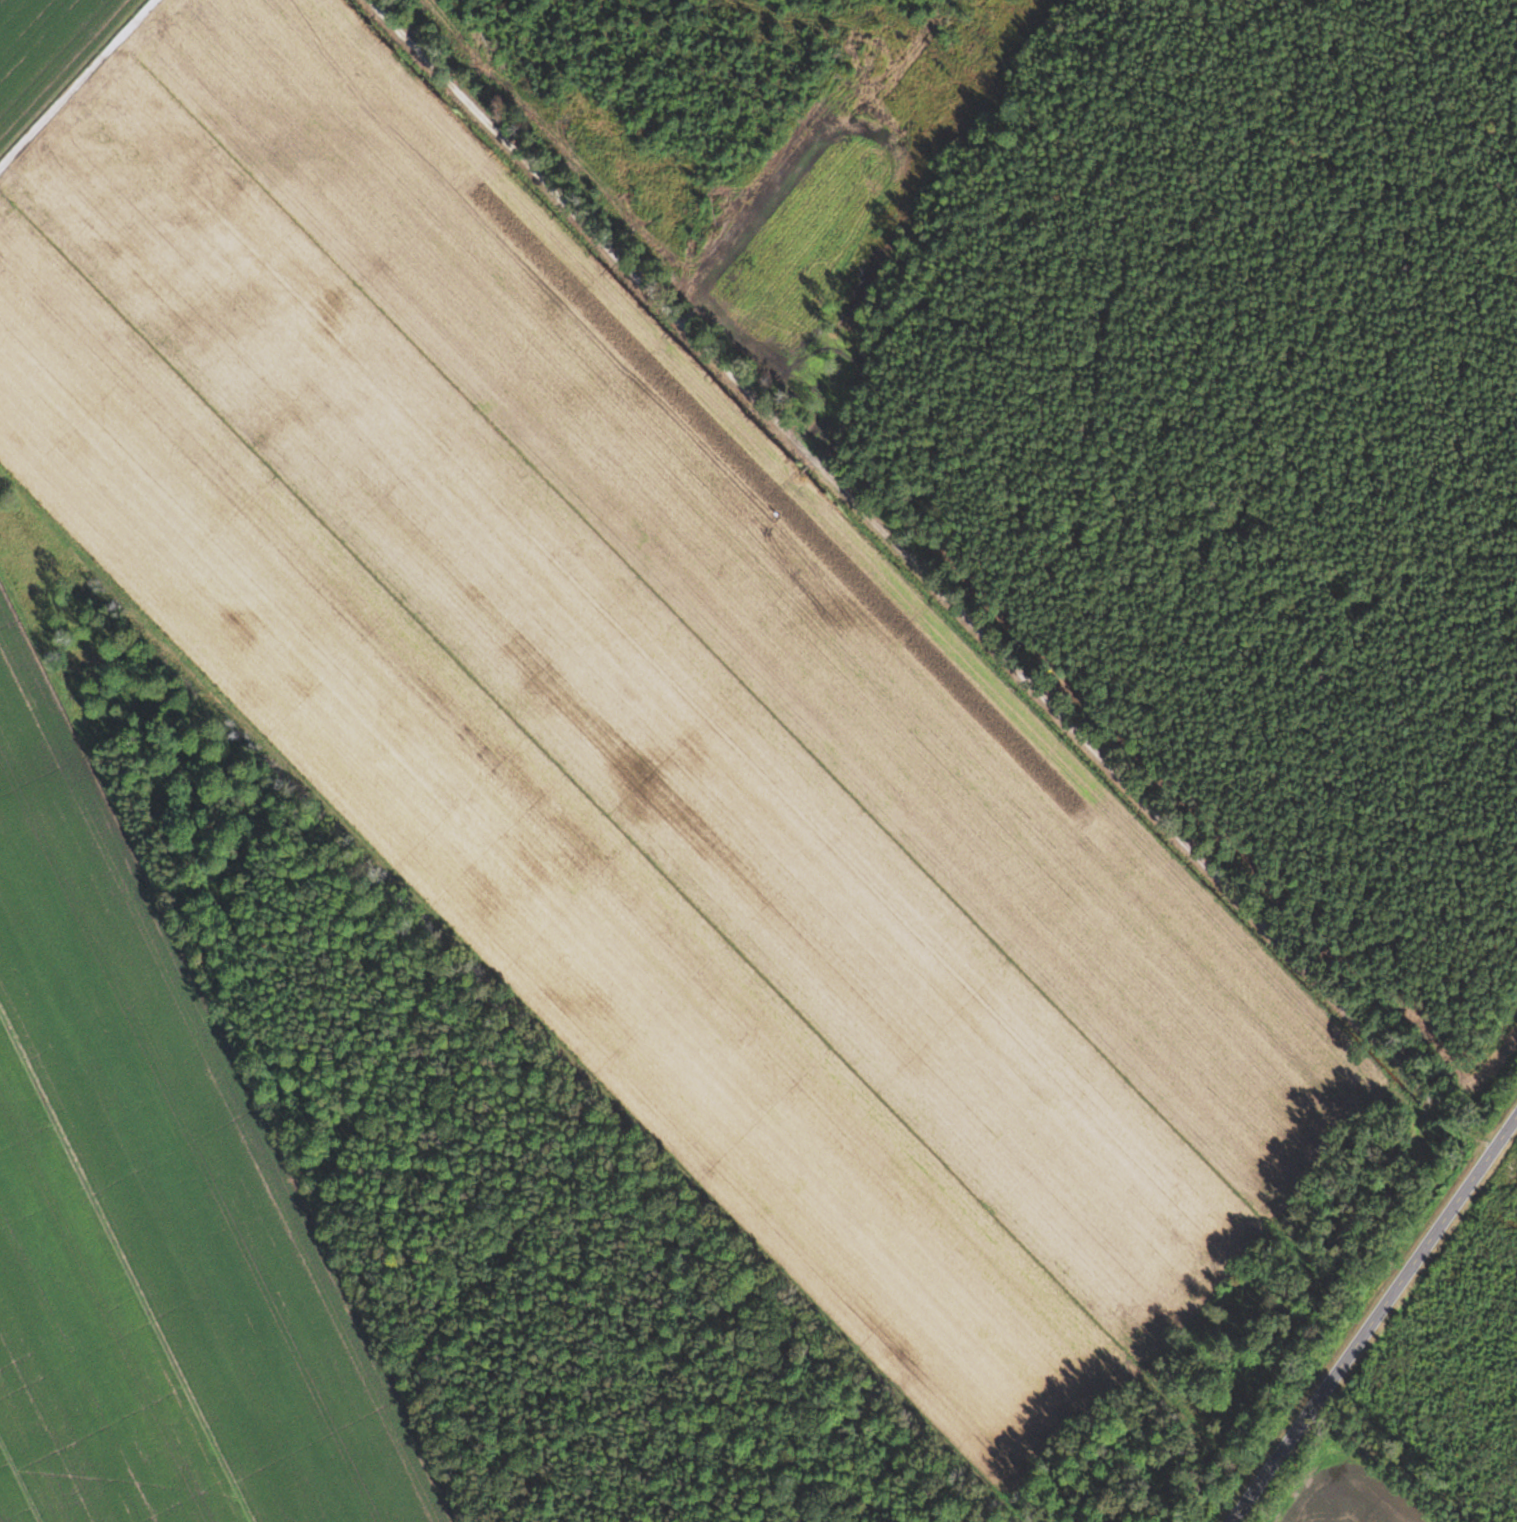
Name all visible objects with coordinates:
road: (922, 581)
road: (1373, 1318)

